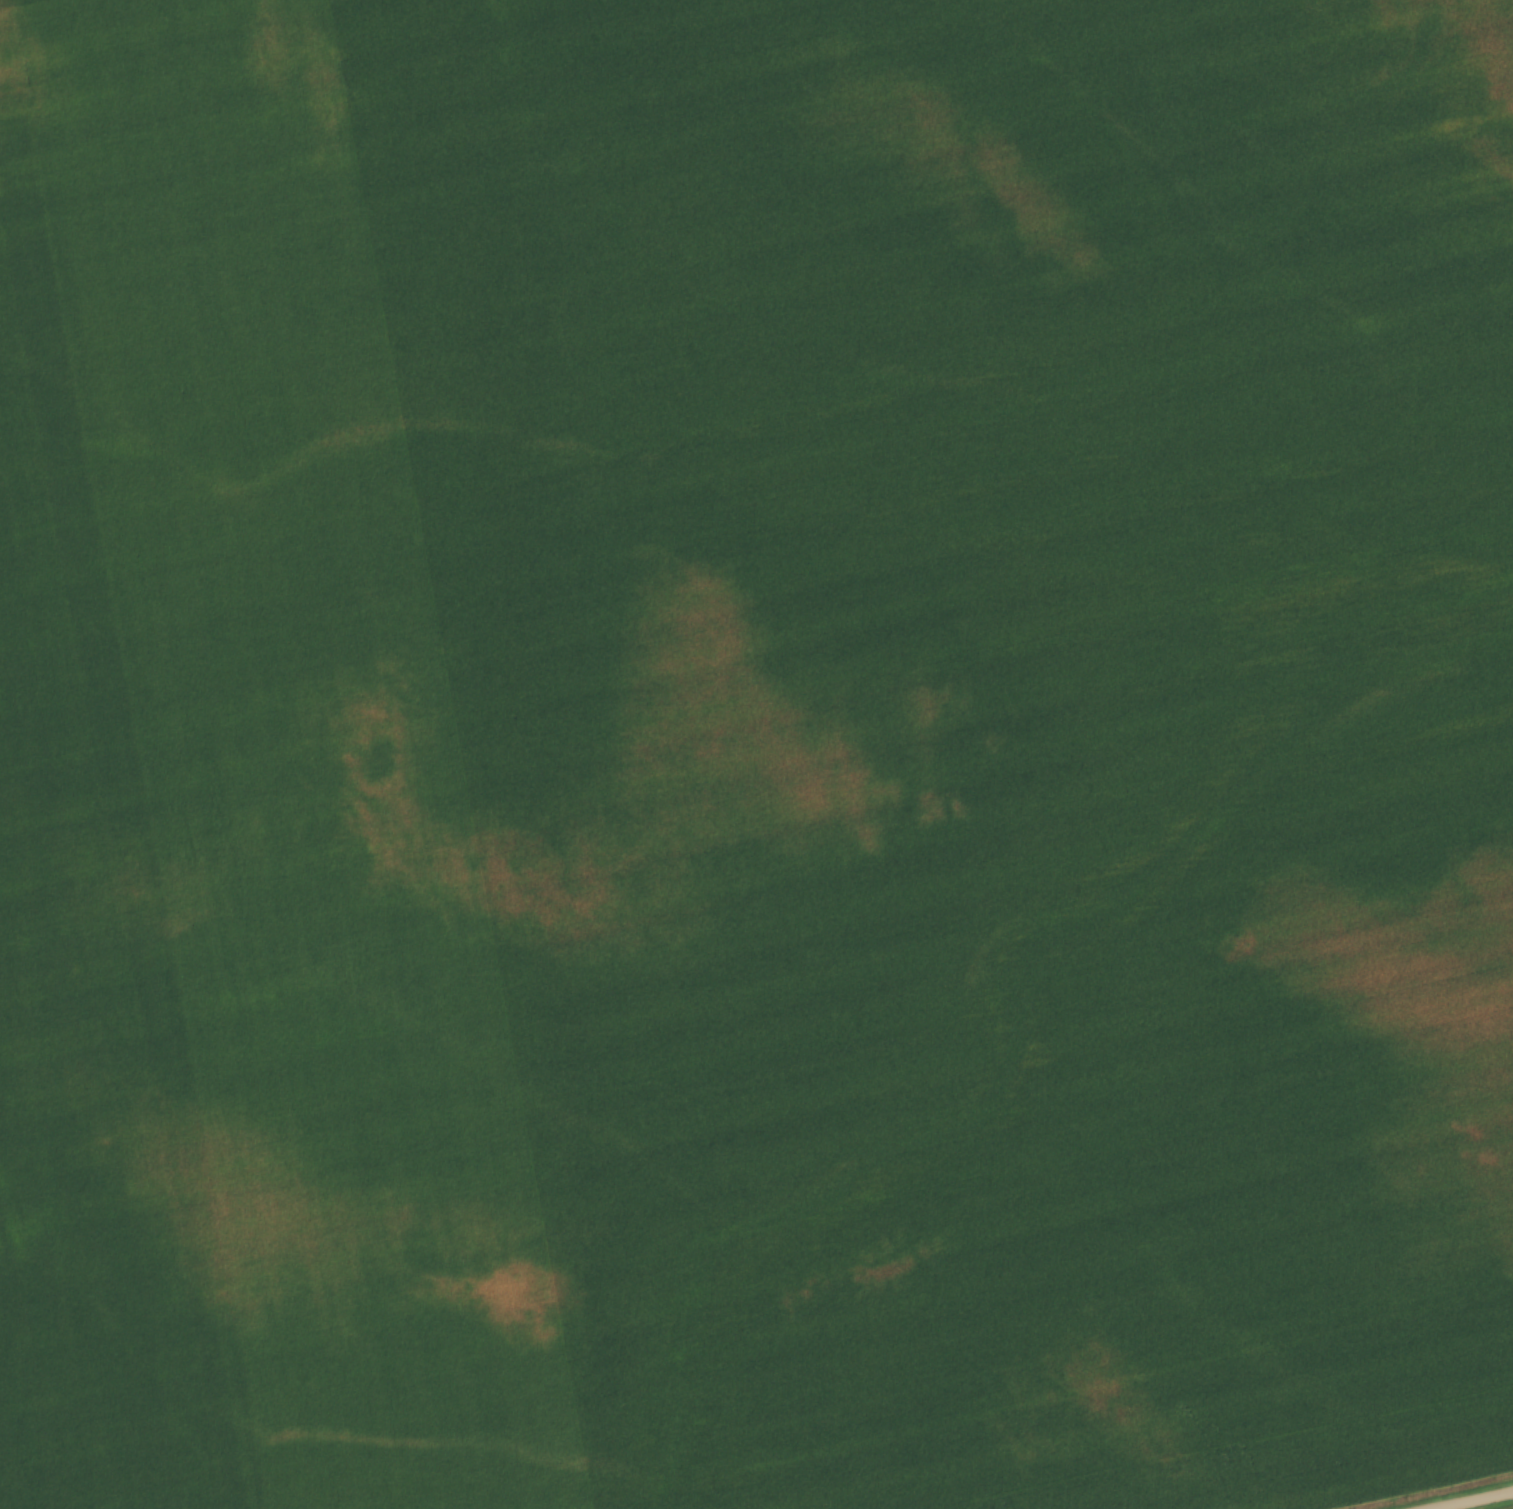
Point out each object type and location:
road: (1481, 1502)

